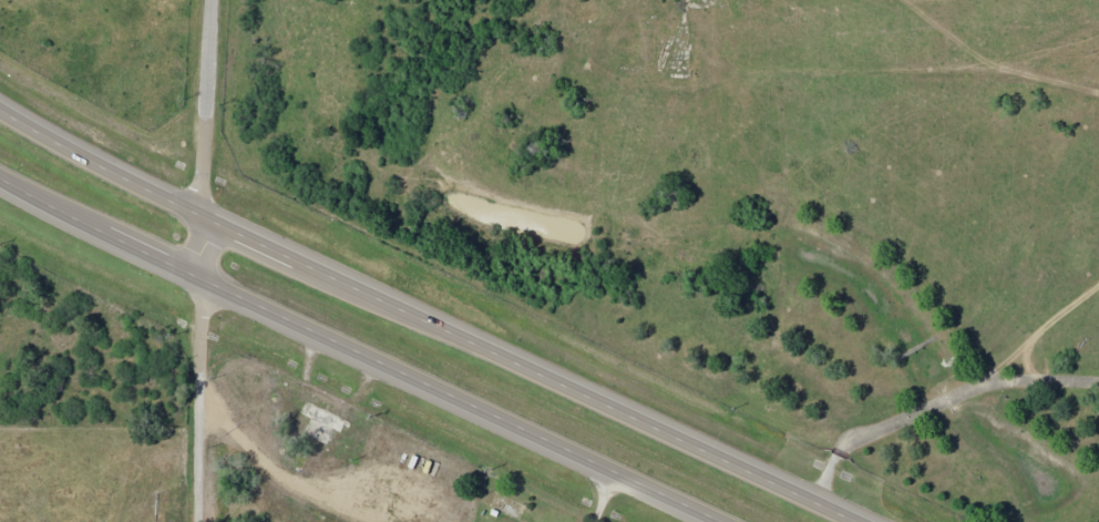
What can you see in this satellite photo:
road: (209, 104)
road: (197, 242)
road: (435, 317)
road: (360, 351)
road: (194, 398)
road: (935, 418)

